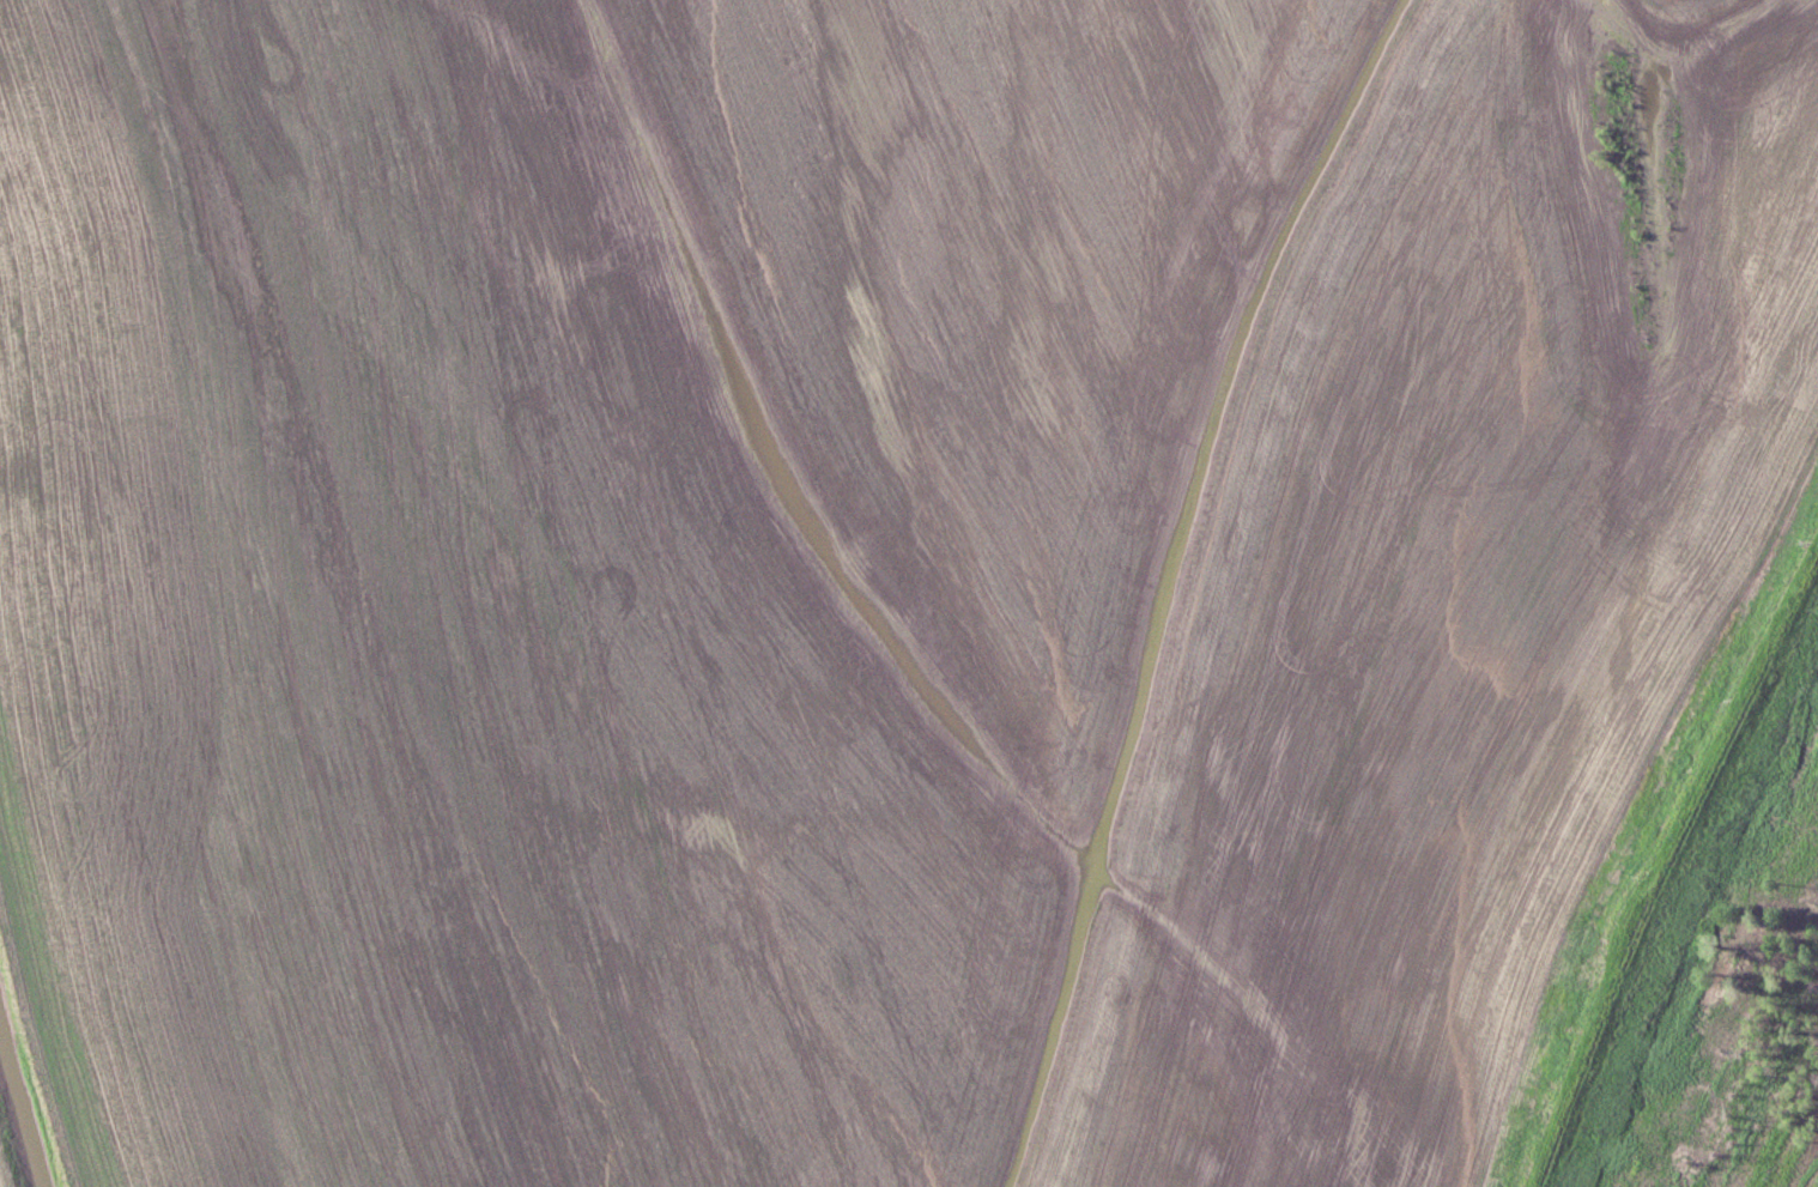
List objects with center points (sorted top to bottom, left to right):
road: (1699, 917)

